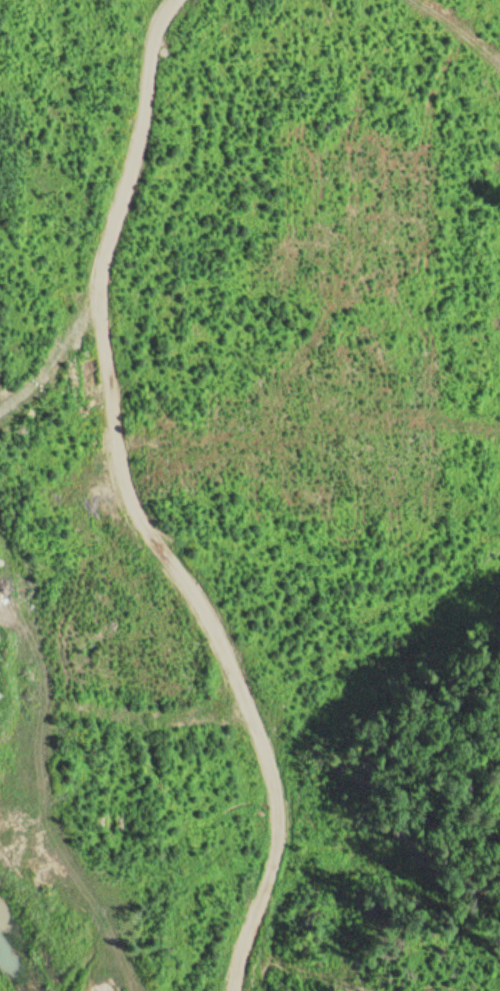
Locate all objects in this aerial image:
road: (119, 216)

